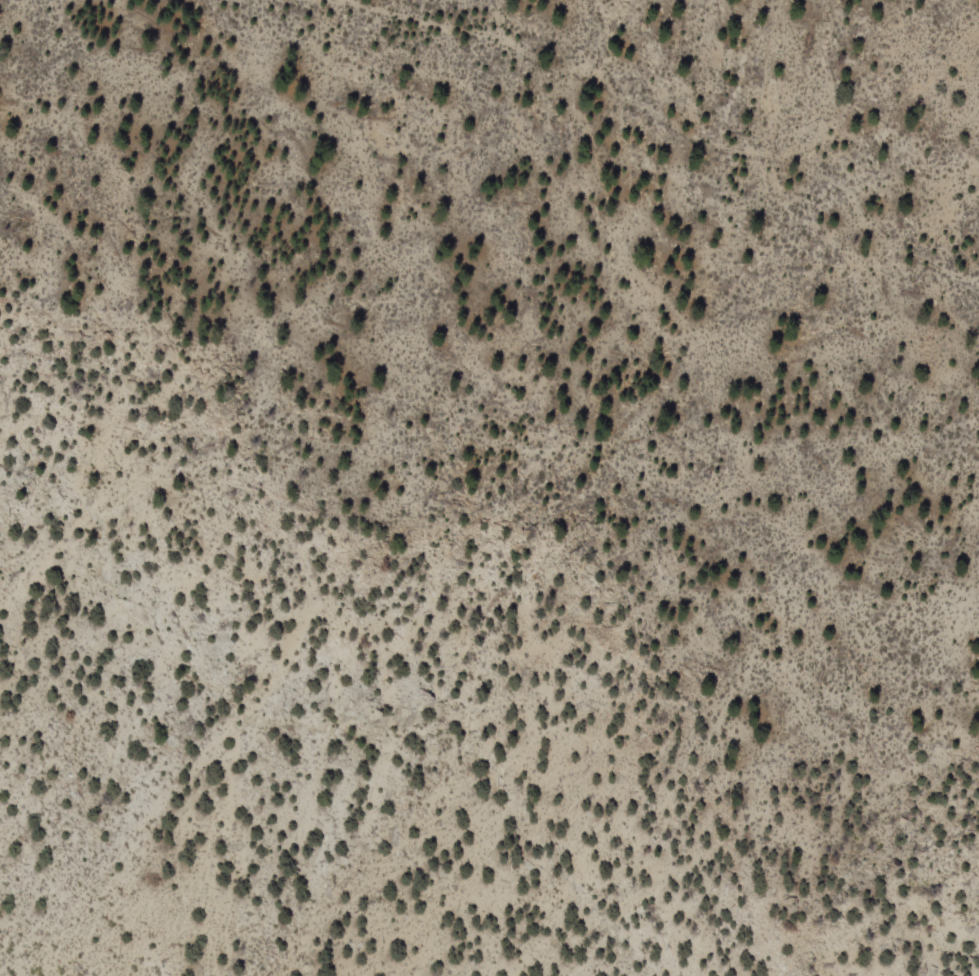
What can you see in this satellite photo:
road: (405, 21)

